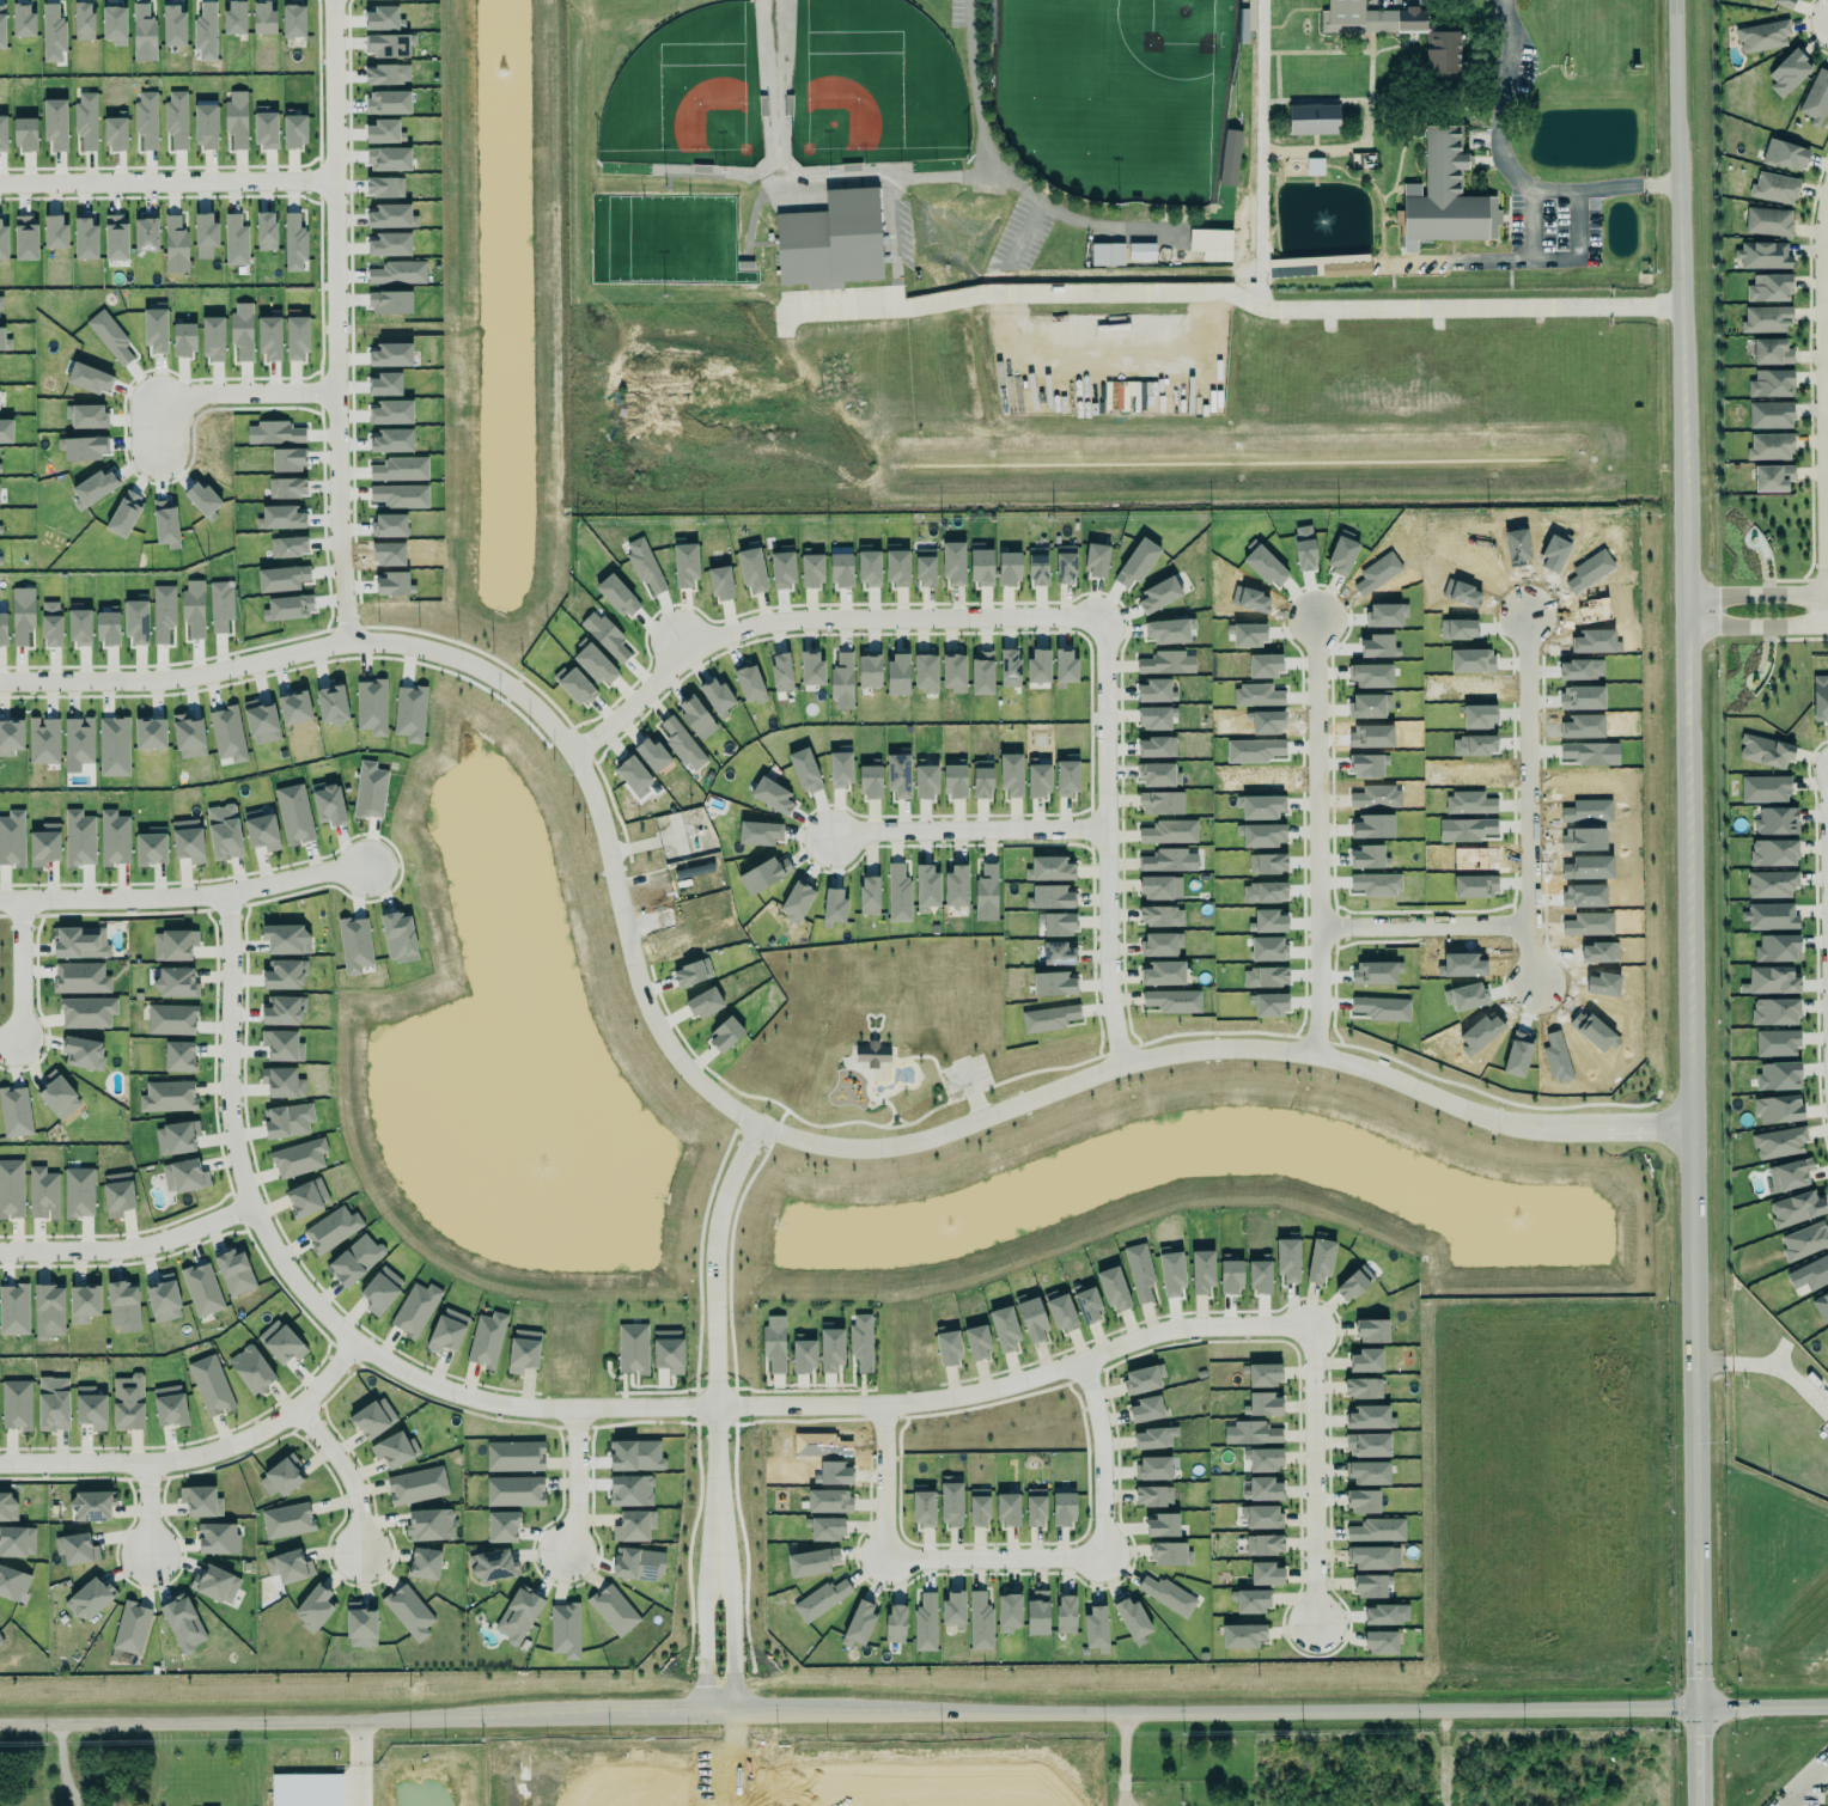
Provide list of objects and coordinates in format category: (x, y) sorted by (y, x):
building: (1785, 2)
building: (236, 18)
building: (264, 19)
building: (383, 19)
building: (1367, 19)
building: (23, 20)
building: (84, 20)
building: (293, 20)
building: (110, 22)
building: (173, 25)
building: (2, 26)
building: (206, 31)
building: (139, 32)
building: (53, 33)
building: (1763, 36)
building: (389, 41)
building: (1443, 56)
building: (1787, 73)
building: (388, 74)
building: (1815, 97)
building: (388, 103)
building: (176, 118)
building: (237, 118)
building: (86, 120)
building: (146, 120)
building: (1314, 120)
building: (55, 123)
building: (206, 126)
building: (294, 128)
building: (266, 129)
building: (384, 132)
building: (2, 133)
building: (25, 134)
building: (116, 134)
road: (1678, 155)
building: (1785, 155)
building: (1230, 157)
building: (388, 158)
building: (1315, 166)
road: (1512, 169)
road: (995, 172)
road: (164, 184)
building: (1773, 187)
building: (384, 188)
building: (1443, 194)
building: (391, 216)
building: (1766, 219)
road: (1533, 225)
building: (51, 228)
building: (262, 230)
building: (201, 233)
building: (146, 234)
building: (20, 237)
building: (116, 237)
building: (85, 239)
building: (236, 240)
building: (290, 240)
building: (4, 242)
building: (831, 242)
building: (1209, 244)
building: (176, 245)
building: (1141, 251)
building: (1107, 254)
building: (1763, 255)
road: (1522, 263)
building: (1345, 266)
building: (398, 273)
building: (1769, 288)
building: (390, 303)
road: (1239, 303)
building: (0, 307)
building: (1763, 317)
road: (329, 324)
building: (156, 330)
building: (242, 331)
building: (105, 335)
building: (269, 337)
building: (297, 337)
building: (213, 338)
building: (183, 340)
building: (5, 341)
building: (1769, 352)
building: (89, 378)
building: (1772, 384)
road: (243, 397)
road: (1823, 410)
building: (391, 413)
building: (1768, 413)
building: (86, 415)
road: (154, 422)
building: (6, 431)
building: (1768, 445)
building: (83, 447)
building: (288, 459)
building: (1772, 477)
building: (92, 488)
building: (287, 488)
building: (281, 517)
building: (165, 524)
building: (389, 525)
building: (0, 530)
building: (287, 547)
building: (1096, 561)
building: (953, 562)
building: (1137, 562)
building: (644, 565)
building: (684, 565)
building: (981, 565)
building: (1065, 565)
building: (0, 566)
building: (869, 566)
building: (896, 566)
building: (1037, 566)
building: (925, 568)
building: (1009, 568)
building: (751, 569)
building: (782, 569)
building: (840, 569)
building: (811, 571)
building: (282, 578)
building: (720, 579)
building: (617, 592)
road: (1760, 593)
building: (1159, 594)
building: (215, 606)
building: (194, 610)
road: (800, 614)
building: (23, 615)
building: (136, 623)
building: (51, 624)
road: (1760, 626)
building: (79, 627)
building: (108, 628)
building: (4, 630)
building: (1169, 632)
building: (605, 636)
road: (309, 652)
building: (1168, 663)
building: (595, 664)
building: (1038, 666)
building: (1065, 666)
building: (1010, 667)
building: (811, 669)
building: (1580, 669)
building: (869, 671)
building: (953, 671)
building: (781, 672)
building: (898, 673)
building: (982, 673)
building: (842, 682)
building: (749, 683)
building: (574, 685)
building: (1156, 691)
building: (717, 696)
building: (1820, 697)
building: (331, 706)
building: (371, 707)
building: (294, 708)
building: (410, 713)
building: (696, 718)
building: (1156, 718)
building: (261, 721)
building: (151, 733)
building: (228, 733)
building: (11, 737)
building: (189, 737)
building: (44, 740)
building: (79, 740)
building: (681, 743)
building: (114, 746)
building: (1157, 746)
building: (1765, 751)
building: (652, 755)
building: (841, 769)
building: (804, 770)
building: (898, 775)
building: (1011, 775)
building: (1159, 775)
building: (634, 776)
building: (870, 777)
building: (1067, 777)
building: (926, 779)
building: (1037, 779)
building: (982, 780)
building: (368, 789)
building: (1765, 789)
building: (773, 797)
building: (1160, 803)
building: (329, 804)
building: (293, 812)
building: (1777, 820)
road: (1318, 822)
building: (261, 830)
road: (964, 831)
building: (1170, 831)
building: (224, 832)
building: (758, 834)
road: (1827, 835)
road: (1103, 836)
building: (12, 838)
building: (79, 838)
building: (114, 838)
building: (188, 841)
building: (44, 844)
building: (151, 849)
building: (1773, 853)
building: (1169, 860)
building: (1049, 868)
building: (696, 871)
building: (766, 874)
road: (1528, 878)
building: (927, 883)
building: (1769, 883)
building: (956, 885)
building: (1160, 887)
building: (898, 893)
building: (986, 893)
building: (869, 895)
road: (181, 897)
building: (1050, 897)
building: (797, 902)
building: (834, 908)
building: (1160, 916)
building: (1771, 916)
building: (1058, 921)
building: (286, 935)
building: (397, 935)
building: (173, 941)
building: (80, 942)
building: (1160, 944)
building: (355, 945)
building: (1777, 945)
road: (1530, 950)
building: (1060, 953)
road: (630, 962)
road: (20, 969)
building: (284, 972)
building: (691, 974)
building: (1163, 974)
building: (80, 978)
building: (1772, 978)
building: (176, 982)
building: (1053, 984)
building: (1174, 1001)
building: (705, 1003)
building: (284, 1011)
building: (87, 1012)
building: (1775, 1012)
building: (171, 1019)
building: (1048, 1019)
building: (725, 1033)
road: (11, 1037)
road: (1312, 1038)
building: (1777, 1043)
building: (282, 1045)
building: (84, 1053)
building: (873, 1054)
road: (1219, 1054)
building: (179, 1056)
road: (1696, 1060)
building: (1779, 1076)
building: (282, 1082)
building: (57, 1096)
building: (169, 1097)
building: (1778, 1105)
building: (16, 1112)
building: (288, 1121)
building: (177, 1139)
road: (225, 1141)
building: (1779, 1142)
building: (298, 1155)
building: (1789, 1174)
building: (184, 1177)
building: (12, 1189)
building: (79, 1192)
building: (43, 1194)
building: (118, 1194)
building: (306, 1197)
building: (1796, 1209)
building: (333, 1230)
building: (1804, 1240)
road: (124, 1247)
building: (1287, 1259)
building: (1321, 1259)
building: (355, 1261)
building: (234, 1271)
building: (1202, 1271)
building: (1140, 1273)
building: (1171, 1273)
building: (1812, 1273)
building: (1230, 1275)
building: (1260, 1276)
building: (1352, 1280)
building: (202, 1289)
building: (1114, 1289)
building: (380, 1291)
building: (163, 1299)
building: (84, 1304)
building: (122, 1304)
building: (1087, 1305)
building: (1822, 1305)
building: (12, 1306)
building: (415, 1307)
building: (49, 1311)
building: (1060, 1311)
building: (1031, 1319)
building: (1005, 1329)
building: (447, 1331)
building: (1372, 1331)
building: (486, 1338)
building: (281, 1342)
building: (861, 1342)
road: (714, 1343)
building: (774, 1343)
building: (977, 1343)
building: (947, 1348)
building: (633, 1349)
building: (523, 1350)
building: (668, 1350)
building: (831, 1350)
building: (803, 1356)
building: (1365, 1361)
building: (251, 1367)
building: (1263, 1374)
building: (1142, 1379)
building: (211, 1386)
building: (1363, 1389)
building: (53, 1402)
building: (128, 1403)
building: (170, 1403)
road: (830, 1403)
building: (1266, 1404)
building: (16, 1405)
building: (91, 1408)
building: (1146, 1409)
building: (1367, 1413)
building: (373, 1418)
building: (1250, 1433)
building: (1154, 1438)
building: (1367, 1445)
building: (392, 1447)
road: (196, 1448)
building: (516, 1456)
road: (1099, 1458)
building: (1263, 1460)
building: (1156, 1463)
road: (341, 1466)
building: (1369, 1472)
road: (1312, 1474)
building: (280, 1475)
road: (575, 1479)
road: (883, 1481)
building: (416, 1484)
building: (1263, 1489)
building: (514, 1491)
road: (145, 1496)
building: (199, 1496)
building: (1153, 1496)
building: (829, 1501)
building: (1363, 1501)
building: (7, 1503)
building: (951, 1503)
building: (1064, 1505)
building: (92, 1506)
building: (922, 1507)
building: (979, 1507)
building: (1035, 1508)
building: (1007, 1509)
building: (1263, 1512)
building: (287, 1520)
building: (428, 1521)
building: (634, 1526)
building: (1162, 1526)
building: (502, 1527)
building: (824, 1529)
building: (1377, 1530)
building: (218, 1538)
building: (17, 1542)
building: (1265, 1545)
building: (77, 1548)
building: (1170, 1555)
building: (1370, 1557)
road: (993, 1560)
building: (494, 1562)
building: (812, 1562)
building: (425, 1563)
building: (639, 1563)
building: (290, 1567)
building: (1266, 1574)
building: (1371, 1579)
building: (13, 1585)
building: (215, 1585)
building: (1166, 1592)
building: (90, 1599)
building: (822, 1599)
building: (1251, 1601)
building: (1009, 1605)
building: (313, 1607)
building: (614, 1610)
building: (953, 1610)
building: (409, 1612)
building: (1037, 1613)
building: (1066, 1615)
building: (1132, 1615)
building: (1387, 1615)
building: (519, 1616)
building: (858, 1621)
building: (981, 1622)
building: (926, 1623)
building: (183, 1624)
building: (896, 1624)
building: (360, 1625)
building: (132, 1628)
building: (565, 1628)
building: (1096, 1629)
building: (1243, 1636)
building: (0, 1640)
road: (731, 1641)
road: (701, 1642)
building: (1381, 1643)
road: (914, 1715)
road: (1115, 1759)
road: (349, 1764)
road: (60, 1767)
road: (1800, 1788)
building: (307, 1789)
road: (1787, 1801)

